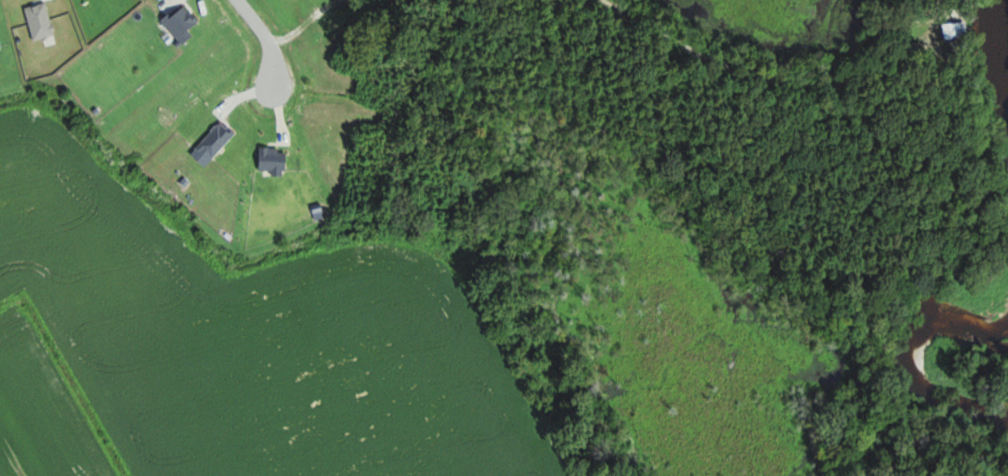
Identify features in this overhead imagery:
river: (1007, 5)
road: (270, 38)
river: (991, 282)

